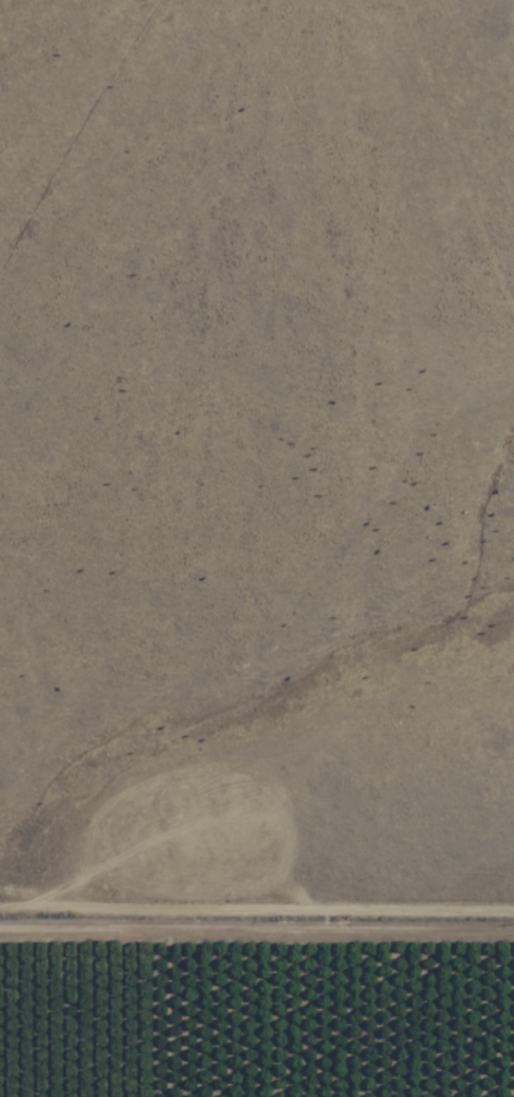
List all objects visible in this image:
road: (85, 143)
road: (466, 148)
road: (256, 952)
crop: (255, 1016)

